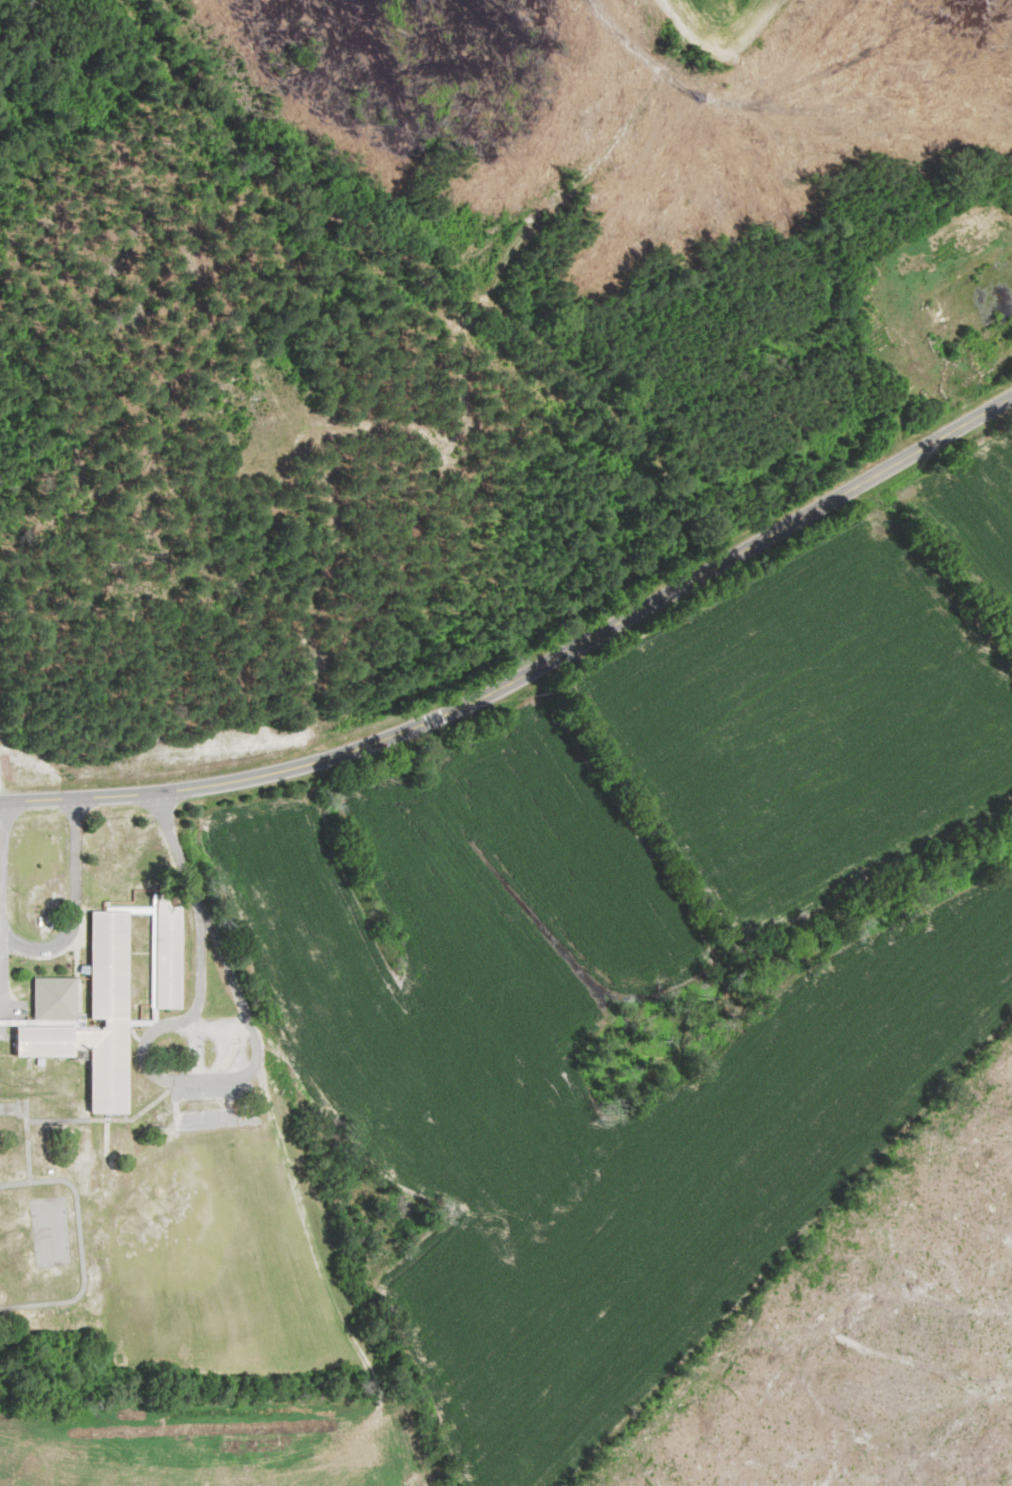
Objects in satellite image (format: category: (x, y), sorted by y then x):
road: (530, 670)
road: (2, 793)
road: (2, 891)
road: (76, 905)
road: (199, 912)
building: (110, 1000)
road: (250, 1021)
road: (210, 1024)
road: (153, 1030)
road: (232, 1050)

